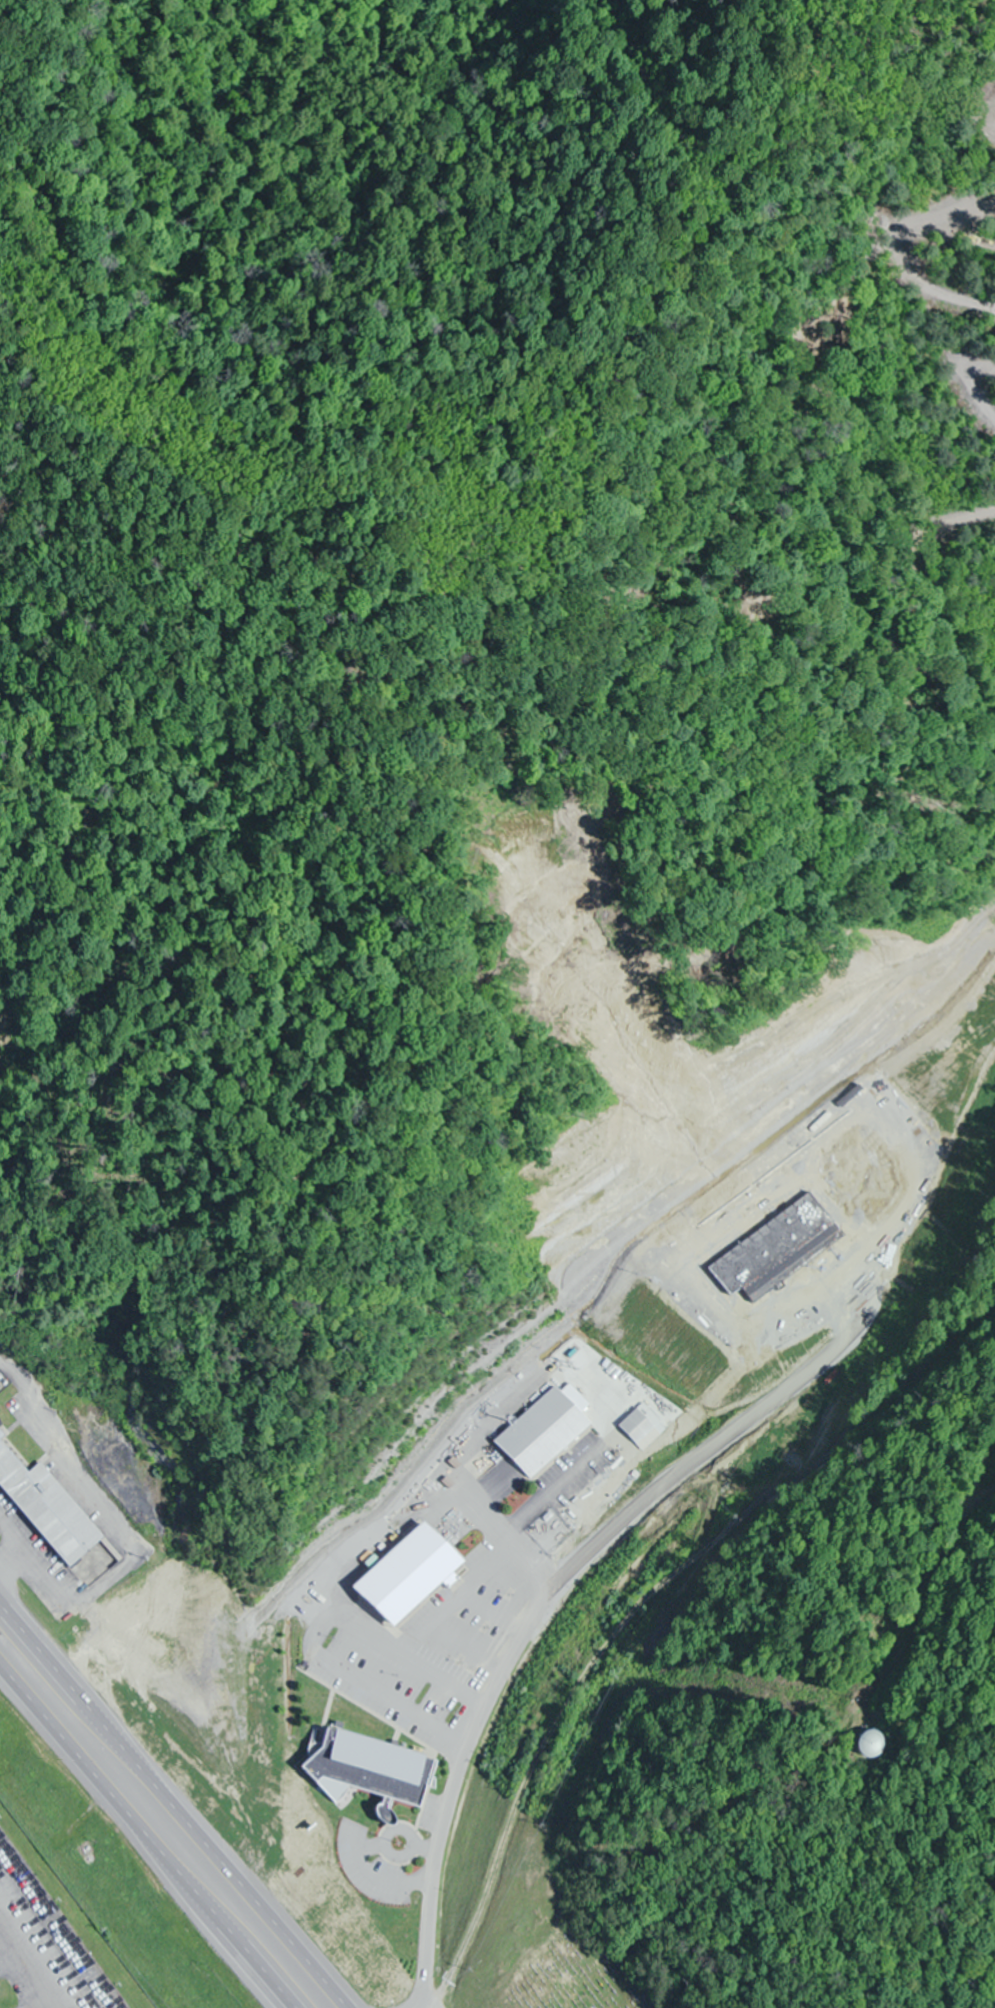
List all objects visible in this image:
building: (550, 1433)
building: (48, 1506)
building: (416, 1578)
road: (489, 1704)
building: (868, 1744)
water tower: (869, 1749)
building: (372, 1772)
road: (175, 1802)
road: (146, 1837)
flagpole: (400, 1838)
park: (546, 1944)

